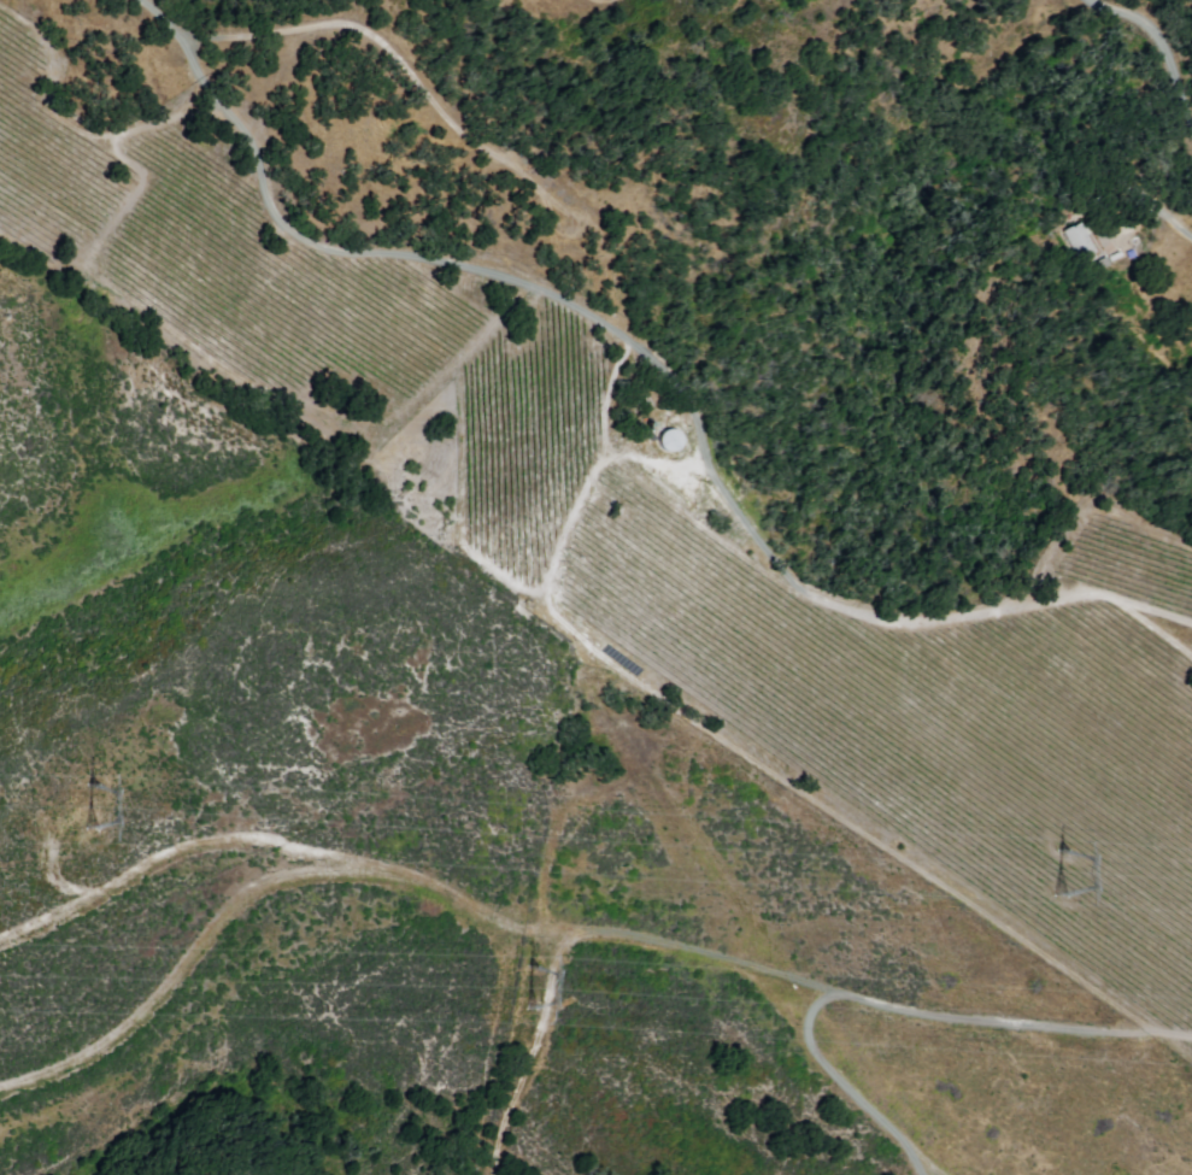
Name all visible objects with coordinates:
road: (1150, 53)
road: (1157, 210)
building: (1082, 242)
building: (1116, 249)
road: (330, 252)
building: (1105, 265)
road: (651, 357)
storage tank: (668, 440)
power tower: (82, 799)
power tower: (1051, 868)
road: (582, 934)
power tower: (528, 988)

